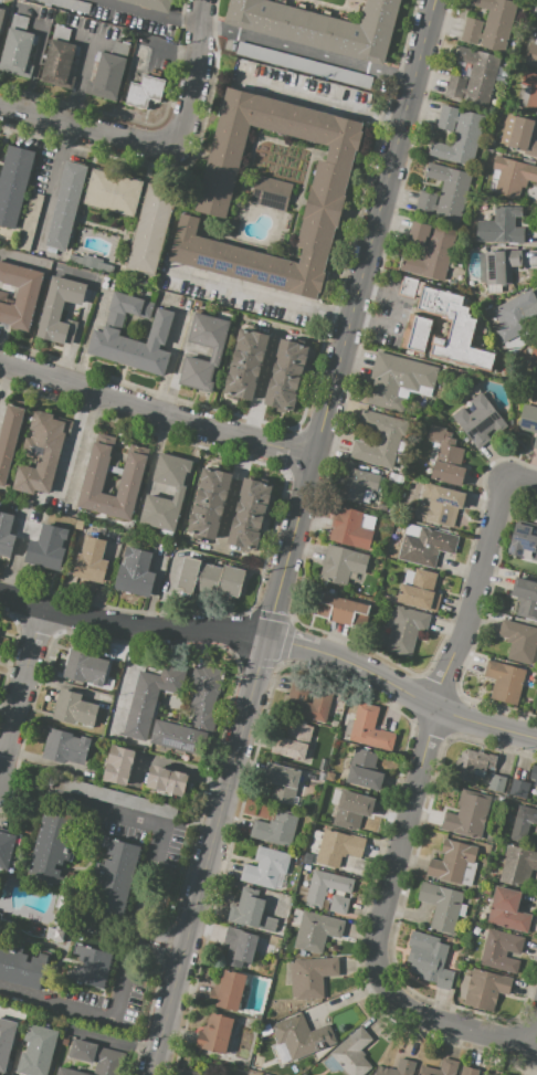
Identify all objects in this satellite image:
building: (69, 4)
building: (151, 4)
road: (198, 12)
road: (145, 13)
building: (1, 14)
building: (489, 24)
building: (320, 27)
building: (536, 39)
building: (19, 49)
road: (306, 51)
building: (61, 54)
building: (530, 57)
building: (297, 63)
building: (109, 71)
building: (473, 77)
road: (191, 87)
building: (146, 92)
building: (530, 93)
road: (323, 102)
road: (83, 129)
building: (457, 137)
building: (519, 137)
building: (489, 150)
building: (513, 177)
building: (329, 179)
building: (13, 182)
road: (51, 187)
building: (112, 192)
building: (271, 193)
building: (444, 194)
building: (65, 204)
building: (29, 221)
building: (501, 226)
building: (150, 229)
building: (431, 250)
building: (491, 268)
building: (408, 287)
building: (19, 295)
road: (262, 298)
building: (60, 309)
road: (391, 315)
building: (514, 317)
road: (350, 319)
building: (418, 329)
building: (105, 334)
building: (217, 351)
building: (533, 355)
building: (245, 363)
building: (286, 376)
road: (3, 378)
building: (399, 380)
road: (157, 411)
building: (477, 420)
building: (528, 421)
building: (8, 438)
road: (250, 438)
building: (378, 439)
building: (42, 452)
building: (445, 457)
building: (130, 477)
building: (394, 477)
road: (520, 481)
building: (355, 483)
building: (151, 496)
building: (368, 497)
building: (209, 503)
building: (440, 505)
building: (382, 507)
building: (250, 514)
building: (369, 523)
building: (349, 529)
building: (411, 530)
building: (6, 534)
building: (524, 541)
building: (49, 547)
building: (427, 547)
building: (89, 560)
building: (343, 566)
building: (135, 571)
building: (209, 578)
building: (409, 578)
road: (105, 583)
building: (420, 591)
road: (152, 596)
building: (386, 598)
building: (526, 598)
building: (341, 610)
building: (390, 618)
road: (133, 629)
building: (404, 632)
traffic signals: (267, 641)
building: (519, 642)
road: (292, 644)
building: (85, 666)
building: (504, 681)
road: (20, 692)
building: (206, 694)
building: (150, 698)
road: (424, 702)
building: (308, 703)
building: (73, 708)
building: (367, 728)
building: (180, 738)
building: (294, 740)
building: (64, 747)
building: (118, 763)
building: (473, 763)
building: (365, 770)
building: (322, 774)
building: (534, 774)
building: (331, 777)
building: (167, 780)
building: (282, 782)
building: (496, 783)
building: (519, 787)
building: (115, 798)
building: (352, 810)
road: (407, 812)
building: (468, 814)
building: (523, 822)
building: (275, 829)
building: (316, 840)
building: (536, 842)
building: (337, 847)
building: (52, 849)
building: (6, 850)
road: (209, 857)
building: (307, 857)
building: (297, 860)
building: (454, 863)
building: (518, 866)
building: (307, 867)
building: (266, 868)
building: (114, 877)
building: (325, 887)
building: (487, 889)
building: (339, 905)
building: (441, 905)
building: (462, 910)
building: (508, 910)
building: (251, 911)
building: (0, 916)
building: (297, 916)
road: (140, 924)
building: (56, 930)
building: (477, 930)
building: (316, 931)
road: (162, 937)
building: (240, 946)
building: (425, 949)
building: (501, 950)
road: (158, 952)
building: (302, 953)
building: (468, 958)
building: (93, 967)
building: (21, 969)
building: (312, 977)
building: (444, 979)
building: (484, 989)
building: (225, 991)
building: (214, 1033)
road: (535, 1036)
building: (299, 1039)
building: (6, 1041)
building: (64, 1042)
building: (38, 1051)
building: (352, 1053)
building: (97, 1057)
building: (257, 1061)
building: (397, 1067)
building: (447, 1067)
building: (425, 1071)
building: (470, 1071)
building: (189, 1072)
building: (266, 1074)
building: (371, 1074)

